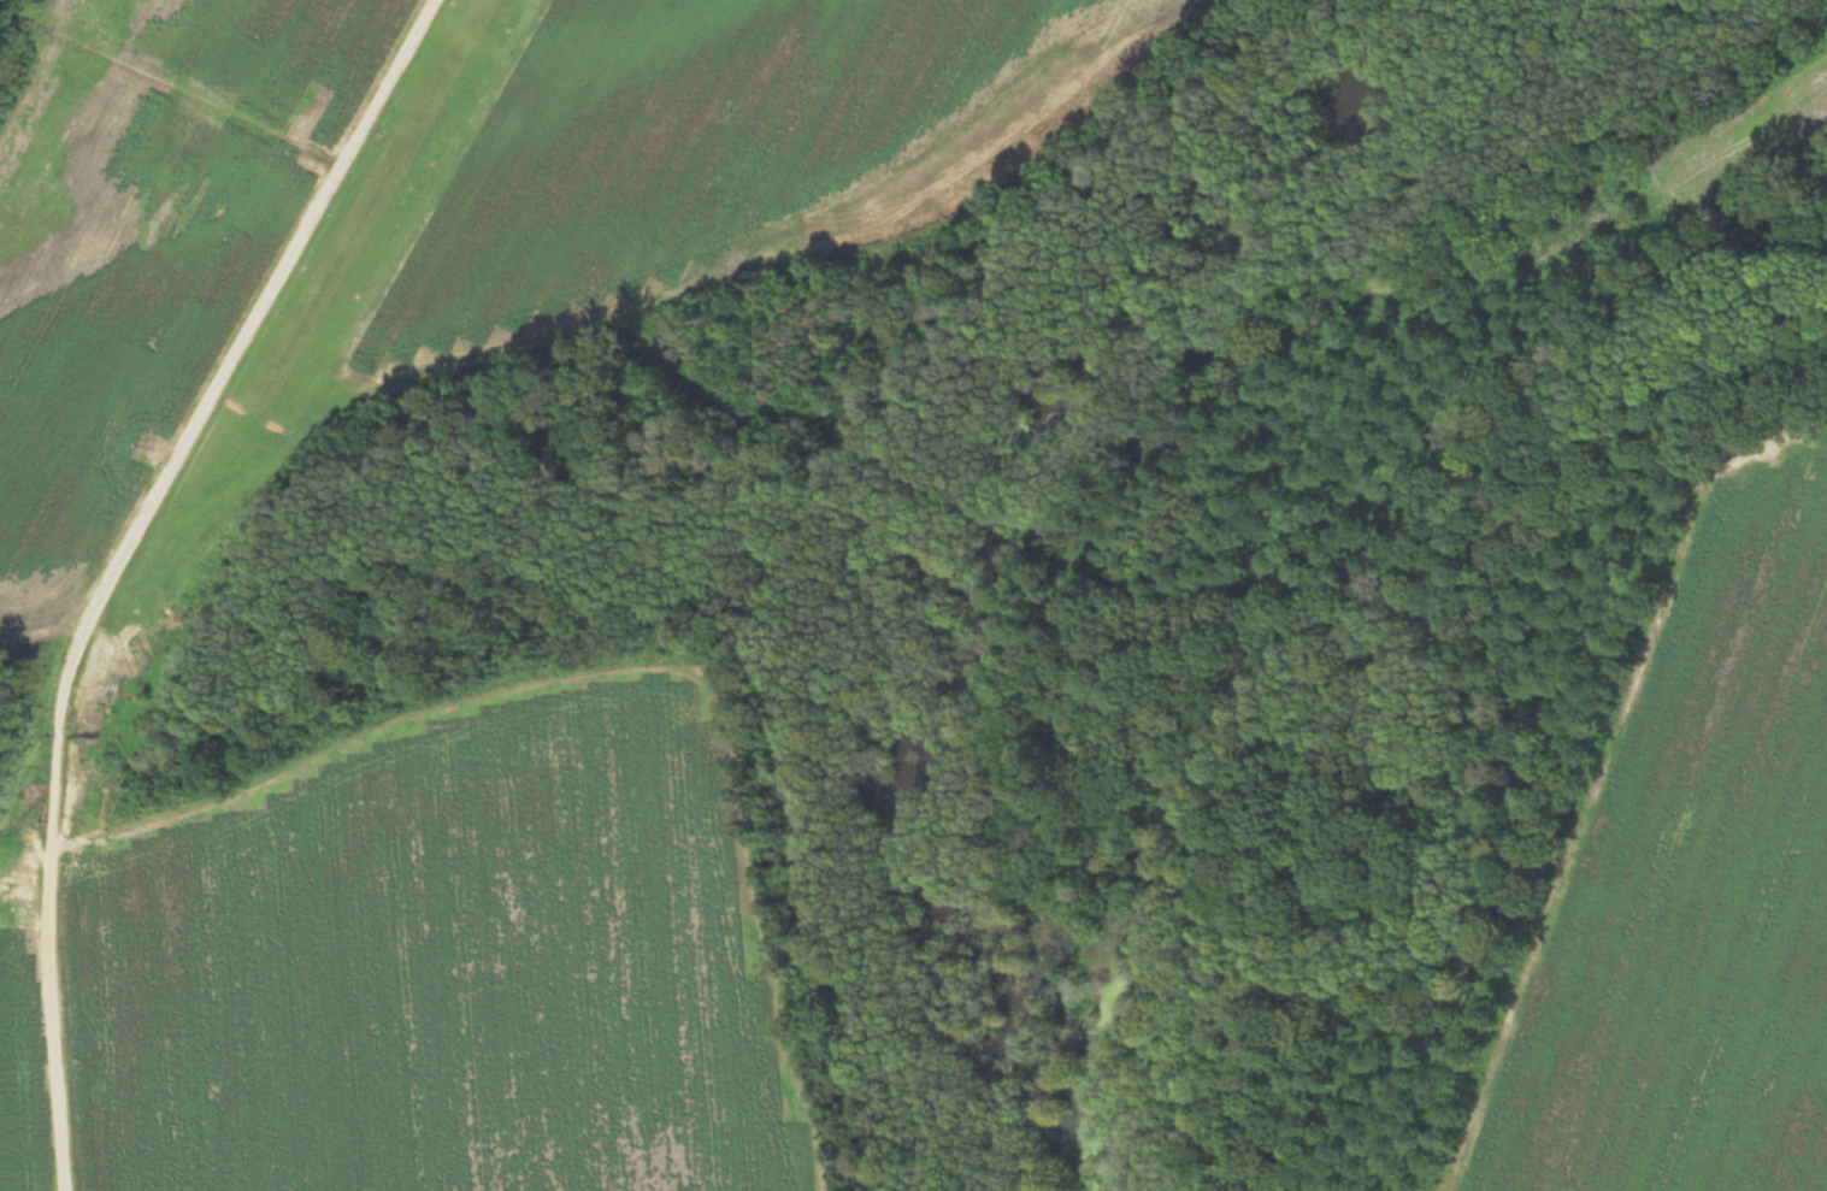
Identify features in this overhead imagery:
airport runway: (369, 211)
road: (124, 561)

